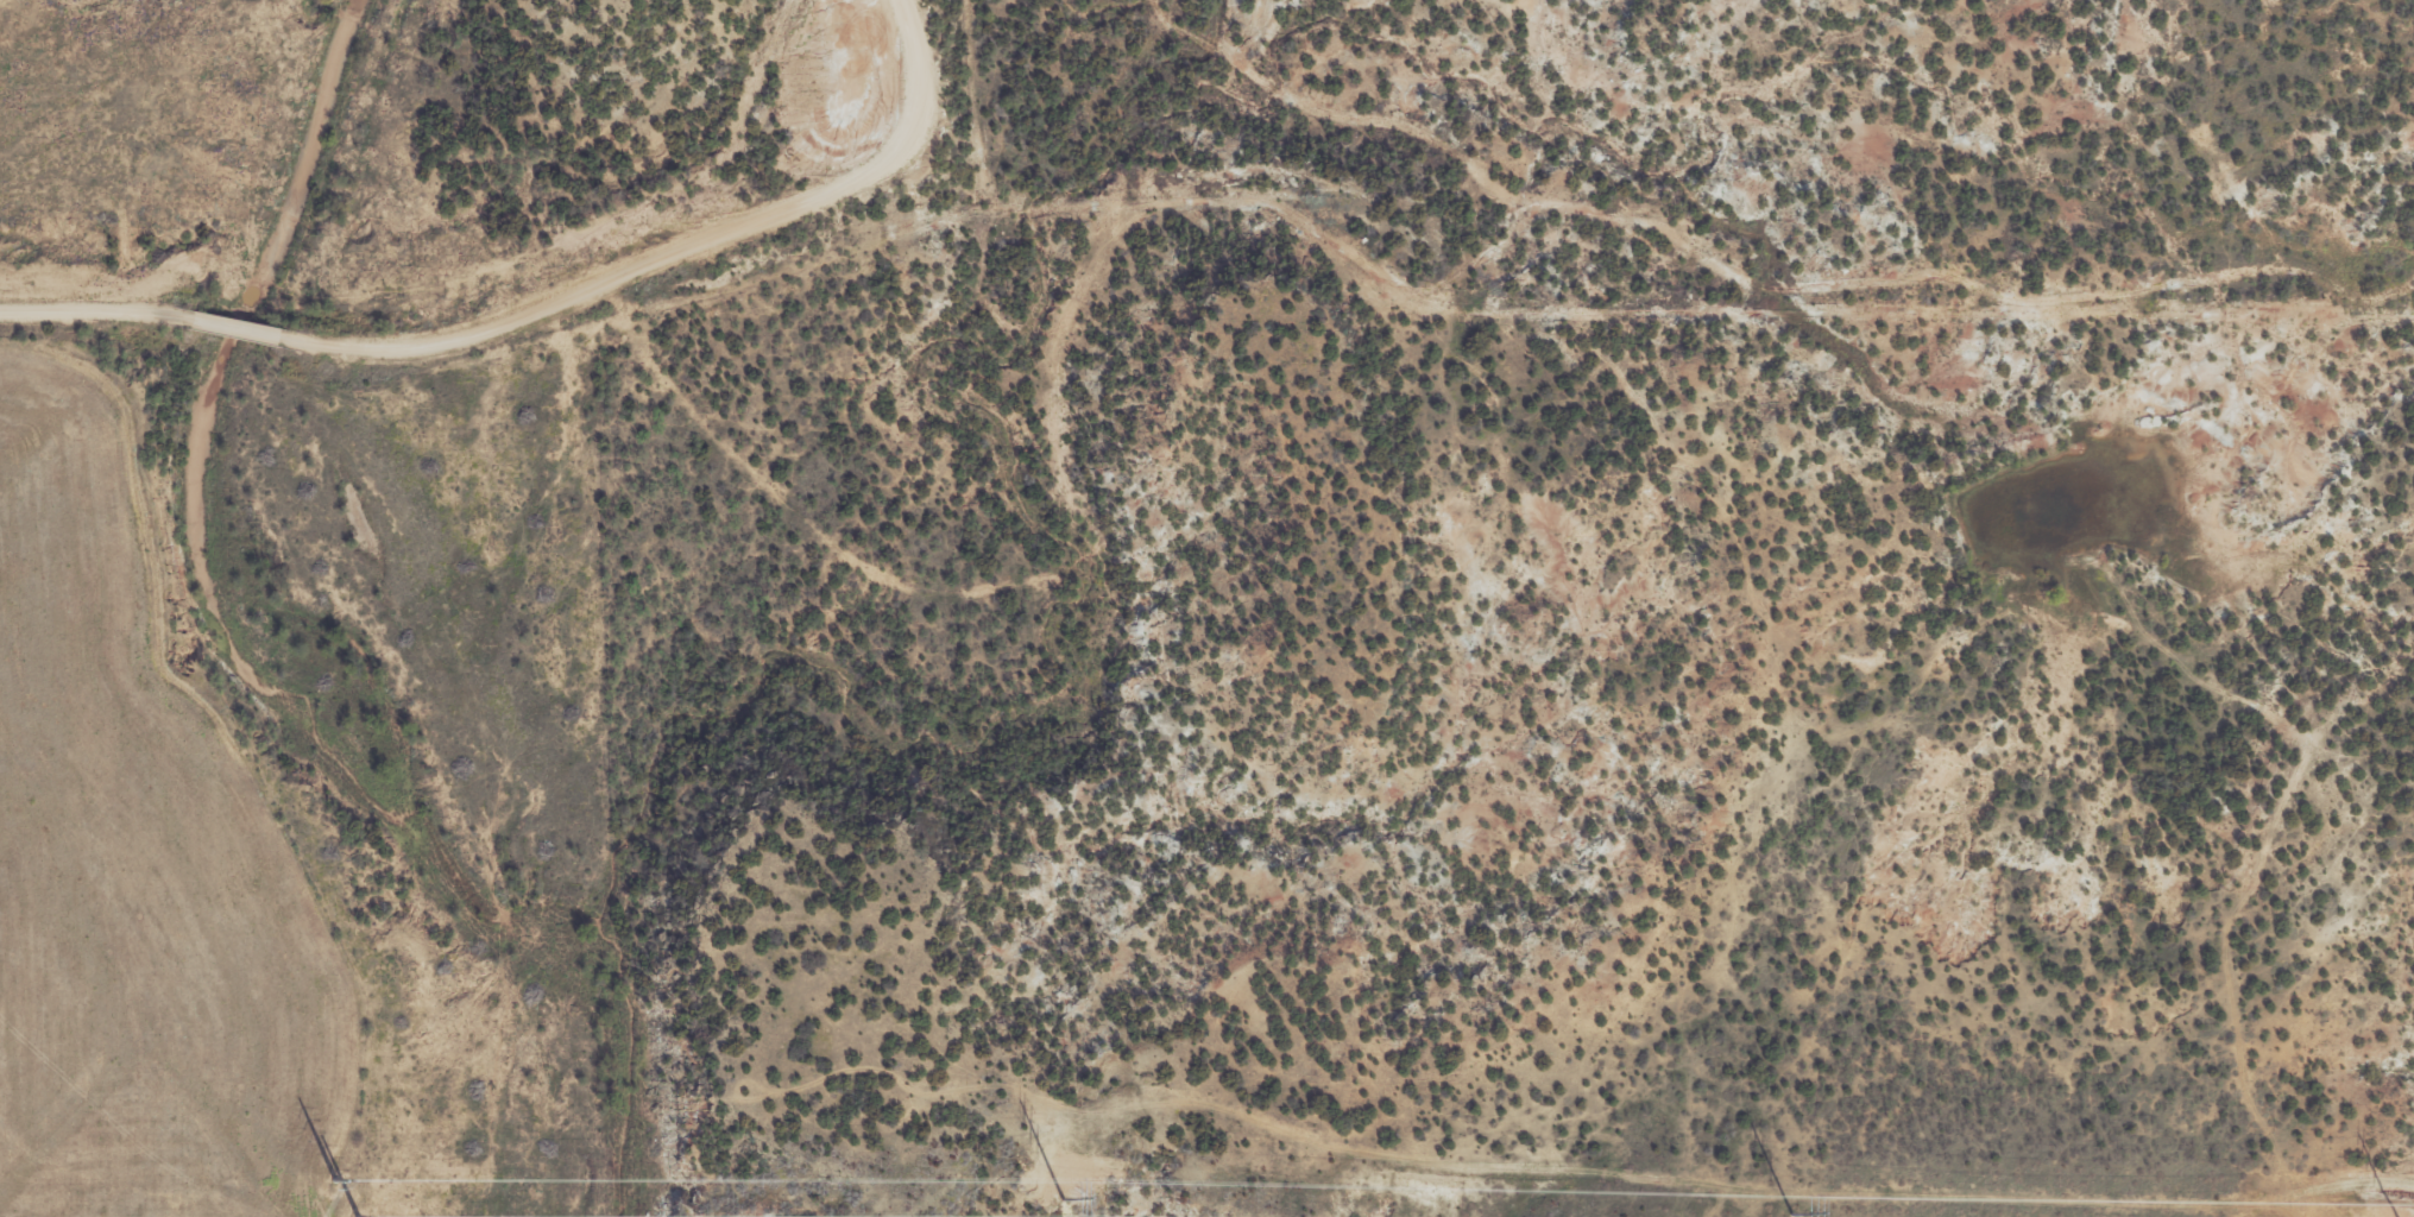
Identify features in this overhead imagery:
road: (544, 304)
power tower: (1059, 1197)
power tower: (346, 1198)
power tower: (1790, 1213)

